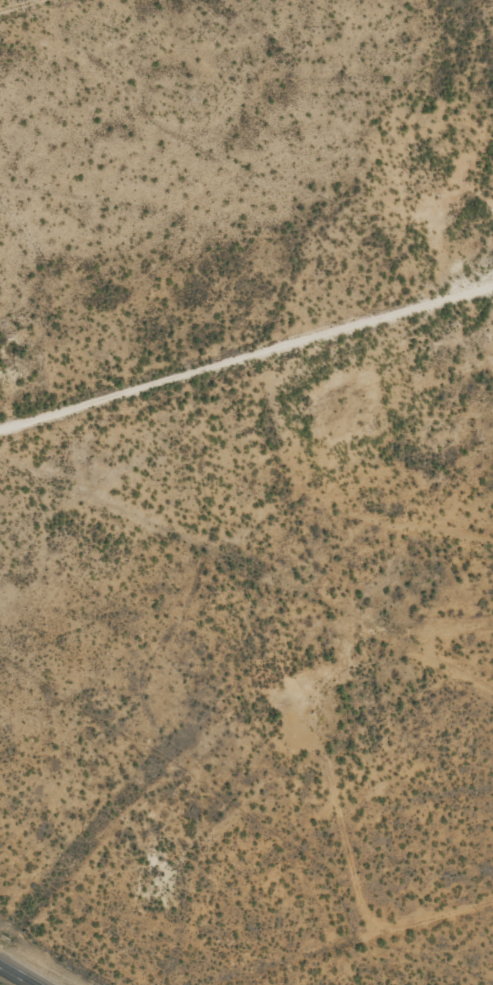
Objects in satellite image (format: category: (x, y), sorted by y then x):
road: (246, 381)
road: (15, 976)

